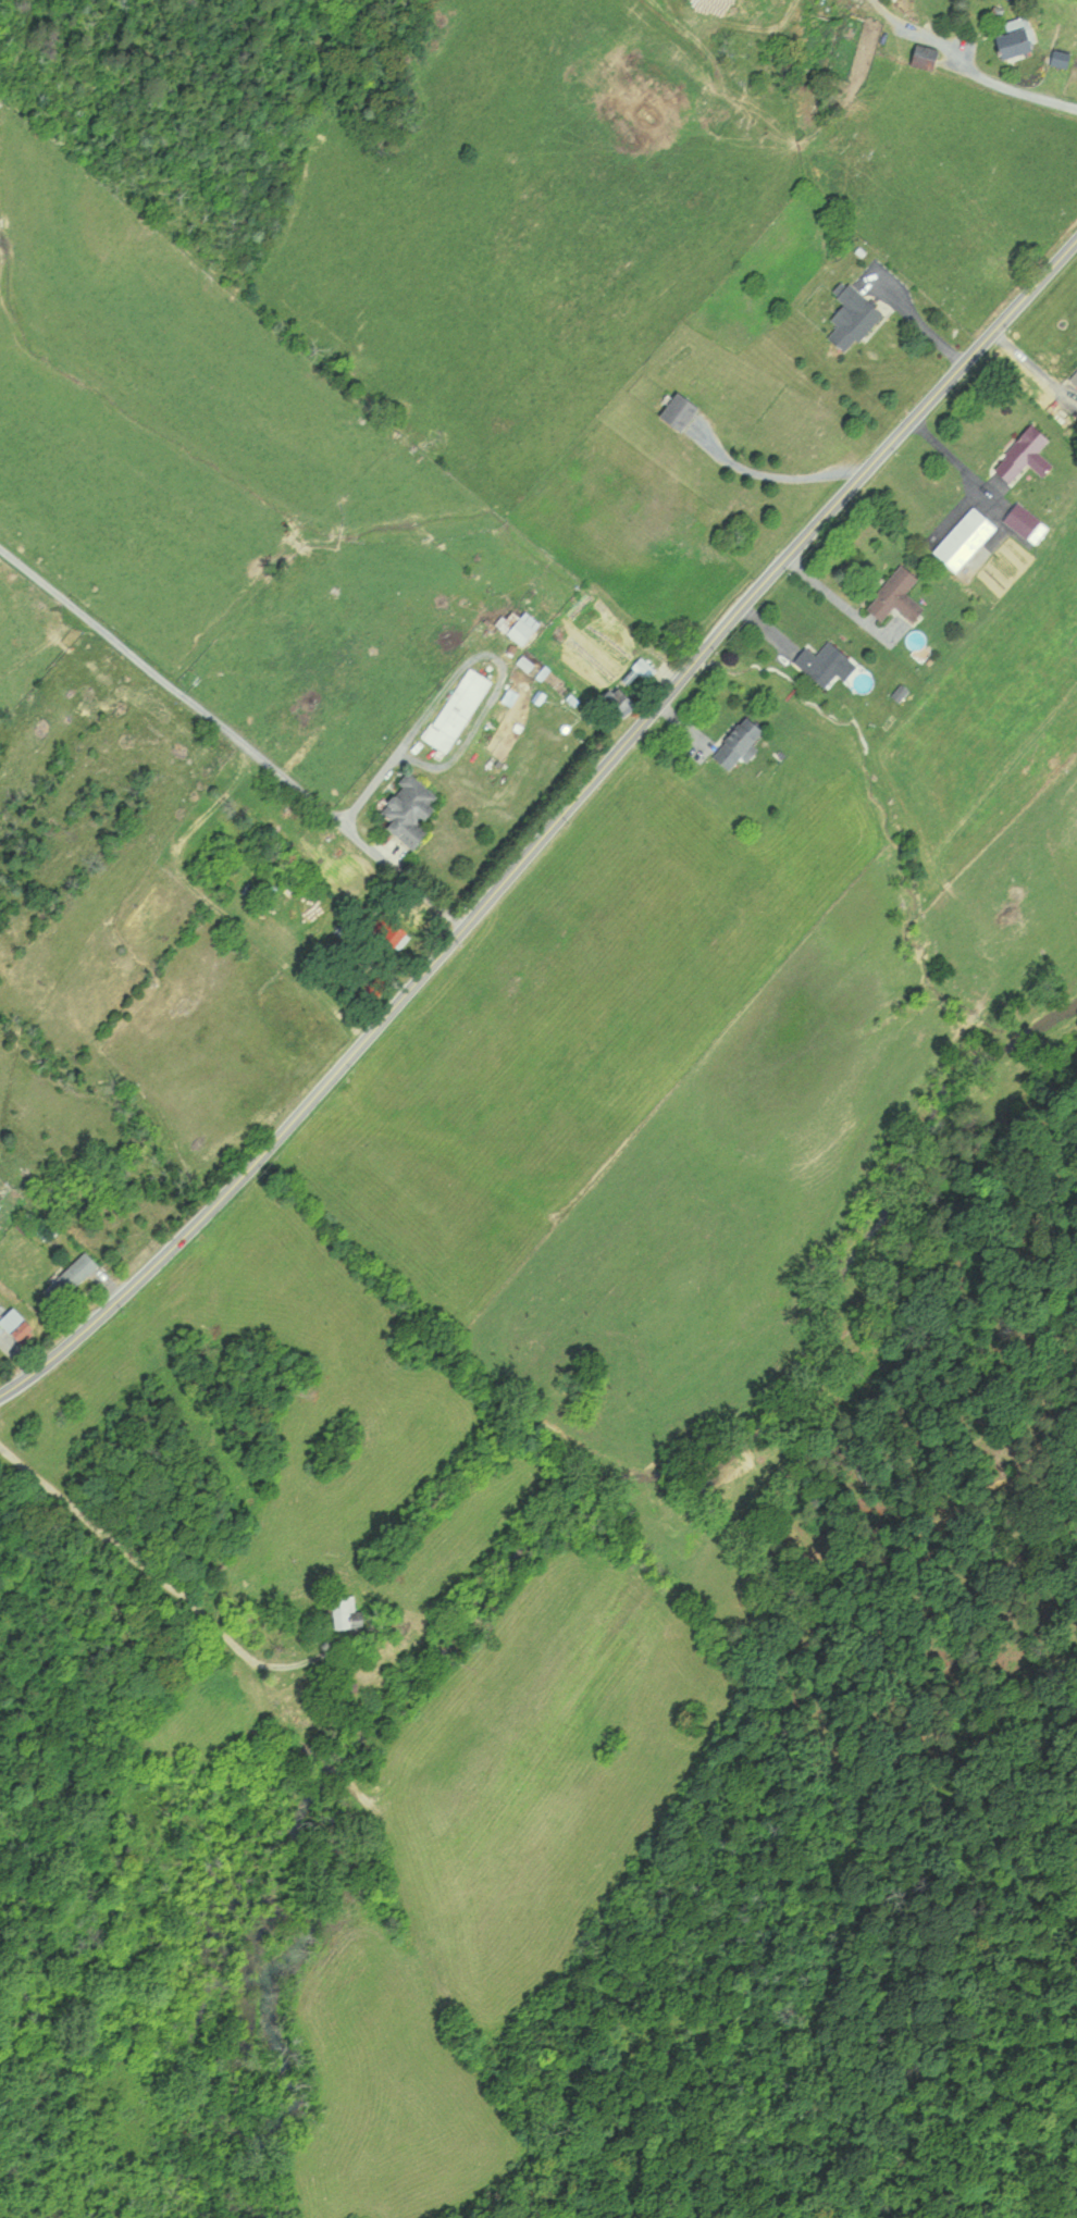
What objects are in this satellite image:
building: (1024, 38)
building: (931, 57)
building: (1066, 59)
road: (968, 65)
building: (856, 319)
building: (683, 410)
building: (1027, 453)
road: (952, 459)
road: (779, 479)
building: (1029, 522)
building: (968, 540)
building: (900, 596)
road: (825, 599)
building: (520, 628)
building: (825, 662)
building: (641, 671)
building: (861, 678)
building: (460, 710)
road: (231, 739)
building: (742, 742)
road: (389, 758)
building: (414, 811)
road: (549, 828)
building: (394, 929)
building: (1, 1229)
building: (73, 1279)
building: (18, 1325)
road: (147, 1568)
building: (346, 1612)

